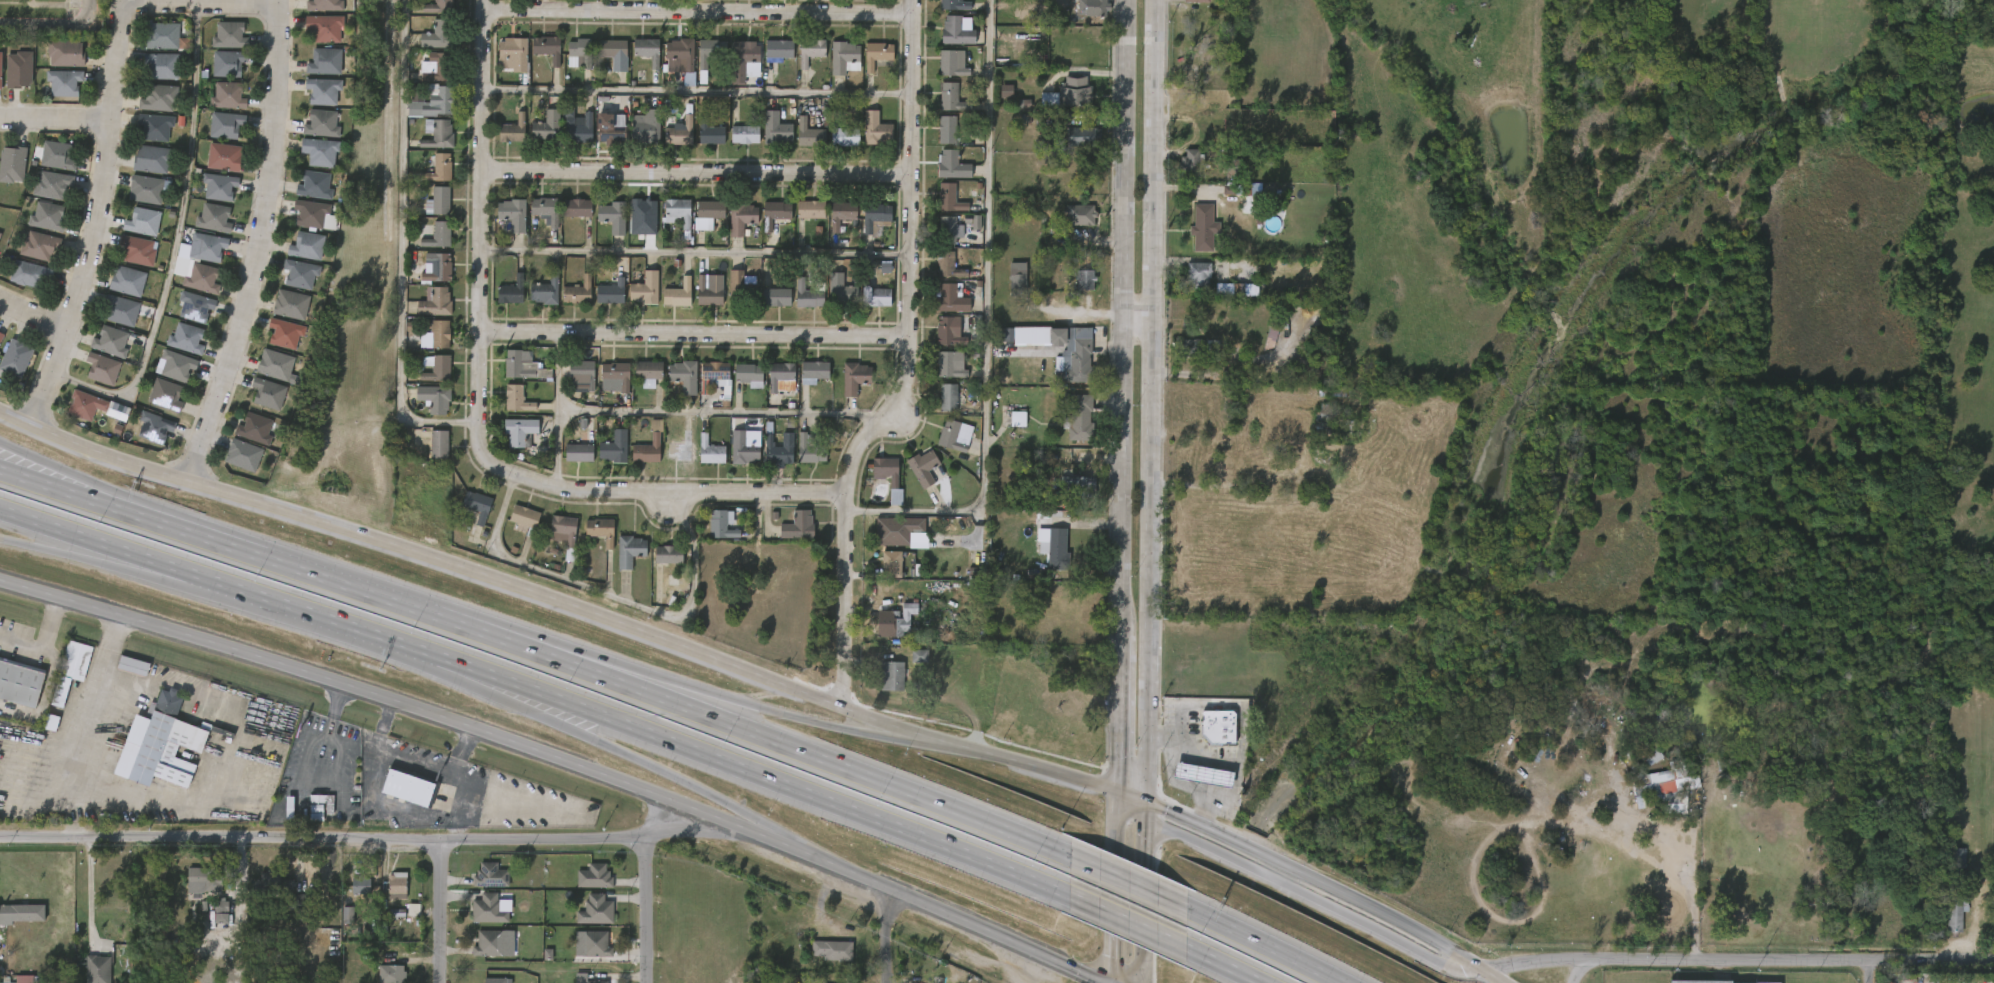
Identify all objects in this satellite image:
building: (1197, 0)
building: (1062, 1)
building: (26, 4)
building: (955, 4)
building: (324, 5)
building: (441, 7)
building: (1088, 8)
building: (941, 11)
building: (430, 12)
road: (701, 12)
building: (1080, 16)
road: (51, 23)
building: (1991, 25)
building: (327, 28)
building: (954, 32)
building: (439, 34)
building: (228, 35)
building: (164, 37)
building: (313, 38)
building: (945, 41)
building: (219, 45)
building: (427, 45)
building: (154, 46)
building: (612, 48)
building: (544, 49)
building: (647, 49)
building: (779, 49)
building: (811, 50)
building: (511, 51)
building: (682, 51)
building: (710, 51)
building: (579, 52)
building: (65, 53)
building: (877, 54)
building: (844, 57)
building: (536, 58)
building: (742, 59)
building: (767, 59)
building: (636, 60)
building: (799, 61)
building: (327, 62)
building: (699, 62)
building: (55, 63)
building: (227, 63)
building: (604, 63)
building: (953, 63)
building: (0, 64)
building: (501, 64)
building: (568, 64)
building: (865, 64)
building: (165, 66)
building: (668, 66)
building: (833, 68)
building: (17, 69)
building: (443, 69)
building: (314, 72)
building: (217, 73)
building: (941, 73)
building: (150, 76)
building: (425, 77)
building: (63, 82)
road: (702, 90)
building: (1075, 91)
building: (53, 92)
building: (325, 92)
building: (230, 96)
building: (952, 97)
building: (161, 98)
building: (312, 101)
building: (433, 103)
building: (1057, 104)
building: (217, 106)
building: (148, 108)
building: (940, 108)
building: (424, 114)
building: (1036, 119)
road: (56, 120)
building: (324, 124)
building: (576, 124)
building: (227, 125)
building: (644, 125)
building: (544, 126)
building: (157, 127)
building: (774, 128)
building: (873, 128)
building: (513, 129)
building: (609, 129)
building: (681, 129)
building: (947, 129)
building: (710, 131)
building: (311, 133)
building: (438, 133)
building: (807, 133)
building: (742, 134)
building: (215, 135)
building: (145, 136)
building: (536, 136)
building: (842, 136)
building: (1080, 136)
building: (634, 137)
building: (599, 138)
building: (765, 138)
building: (568, 139)
building: (864, 139)
building: (936, 139)
building: (502, 140)
building: (668, 142)
road: (110, 143)
building: (427, 143)
building: (700, 144)
building: (733, 144)
building: (798, 144)
building: (1071, 147)
building: (833, 148)
building: (322, 151)
building: (56, 155)
building: (226, 156)
building: (154, 158)
building: (1189, 161)
building: (309, 162)
building: (12, 164)
building: (46, 165)
building: (952, 165)
building: (213, 167)
building: (437, 167)
building: (141, 169)
building: (1180, 171)
road: (703, 175)
building: (940, 175)
building: (51, 184)
building: (317, 184)
building: (221, 186)
building: (416, 187)
building: (148, 189)
building: (40, 194)
building: (304, 195)
building: (209, 196)
building: (950, 198)
building: (137, 199)
building: (437, 201)
building: (577, 207)
building: (938, 208)
building: (811, 209)
building: (546, 210)
building: (427, 211)
building: (678, 211)
building: (313, 212)
building: (776, 212)
building: (840, 213)
building: (513, 214)
building: (708, 214)
building: (1079, 214)
building: (46, 216)
building: (613, 216)
building: (216, 217)
building: (742, 217)
building: (567, 218)
building: (876, 218)
building: (799, 219)
building: (142, 220)
building: (535, 220)
building: (666, 222)
building: (697, 223)
building: (764, 223)
building: (502, 224)
building: (830, 224)
building: (303, 225)
building: (1068, 225)
building: (36, 226)
building: (864, 226)
building: (602, 227)
building: (1201, 227)
building: (203, 228)
building: (730, 228)
building: (949, 230)
building: (132, 231)
building: (964, 232)
building: (438, 236)
building: (1192, 237)
building: (939, 239)
building: (39, 245)
road: (260, 245)
building: (306, 245)
building: (427, 245)
building: (206, 247)
road: (175, 248)
building: (137, 250)
road: (702, 251)
road: (400, 253)
building: (29, 255)
building: (296, 256)
building: (196, 257)
building: (126, 260)
building: (173, 260)
building: (948, 264)
building: (439, 269)
building: (29, 273)
building: (300, 274)
building: (1197, 274)
building: (938, 276)
building: (204, 277)
building: (426, 277)
building: (1083, 279)
building: (129, 280)
building: (1017, 283)
building: (19, 284)
building: (290, 284)
building: (1006, 286)
building: (1186, 286)
building: (738, 287)
building: (191, 288)
building: (645, 289)
building: (117, 290)
building: (511, 290)
building: (545, 290)
building: (1073, 290)
building: (577, 291)
building: (839, 291)
building: (610, 292)
building: (675, 293)
building: (705, 293)
building: (725, 293)
building: (809, 294)
building: (774, 296)
building: (876, 297)
building: (951, 298)
building: (634, 299)
building: (830, 300)
building: (500, 301)
building: (533, 301)
building: (567, 301)
building: (435, 302)
building: (600, 302)
building: (696, 303)
building: (293, 304)
building: (667, 304)
building: (796, 305)
building: (197, 306)
building: (864, 306)
building: (765, 307)
building: (940, 308)
building: (121, 310)
building: (424, 311)
building: (280, 314)
road: (31, 316)
building: (185, 316)
road: (984, 317)
road: (1120, 317)
building: (1037, 318)
building: (110, 320)
building: (948, 332)
building: (287, 333)
building: (440, 334)
road: (702, 335)
building: (2, 338)
building: (188, 338)
building: (112, 341)
building: (938, 341)
building: (274, 343)
building: (425, 345)
building: (1188, 347)
building: (176, 348)
building: (100, 352)
building: (1074, 353)
building: (17, 357)
building: (1182, 357)
building: (1065, 360)
building: (278, 364)
building: (951, 364)
building: (178, 365)
road: (916, 366)
building: (522, 367)
building: (104, 368)
building: (438, 368)
building: (815, 369)
building: (583, 372)
building: (649, 373)
building: (713, 373)
building: (748, 373)
building: (264, 374)
building: (617, 374)
building: (939, 374)
building: (164, 375)
building: (512, 375)
building: (684, 376)
building: (781, 377)
building: (92, 378)
building: (852, 378)
building: (427, 379)
building: (803, 380)
building: (637, 382)
building: (606, 384)
building: (738, 384)
building: (768, 384)
building: (571, 386)
building: (672, 386)
building: (843, 387)
building: (270, 393)
building: (167, 394)
building: (434, 398)
building: (949, 398)
building: (517, 399)
road: (1150, 400)
building: (257, 403)
building: (88, 404)
building: (155, 404)
building: (936, 407)
building: (506, 408)
building: (424, 409)
road: (557, 409)
road: (490, 410)
road: (724, 412)
building: (84, 416)
building: (1077, 418)
building: (156, 427)
building: (257, 428)
building: (1068, 428)
building: (1006, 429)
building: (520, 431)
building: (950, 435)
building: (144, 437)
building: (244, 438)
building: (509, 441)
building: (436, 444)
building: (649, 446)
building: (614, 447)
building: (779, 447)
building: (681, 448)
building: (743, 448)
road: (13, 449)
building: (810, 449)
building: (710, 451)
building: (578, 453)
building: (428, 454)
building: (245, 455)
building: (638, 456)
building: (603, 457)
building: (669, 458)
building: (732, 458)
building: (800, 458)
building: (767, 460)
building: (699, 461)
building: (568, 462)
building: (232, 465)
building: (922, 466)
building: (886, 470)
building: (912, 477)
road: (67, 480)
building: (877, 486)
building: (1078, 486)
road: (53, 488)
building: (1074, 495)
building: (477, 504)
building: (465, 516)
building: (525, 516)
building: (720, 524)
building: (798, 524)
building: (513, 526)
building: (601, 529)
building: (895, 530)
building: (565, 533)
building: (711, 534)
building: (787, 535)
building: (552, 539)
building: (589, 540)
road: (95, 541)
building: (630, 549)
road: (49, 550)
building: (1055, 551)
building: (667, 556)
building: (1044, 557)
building: (619, 560)
building: (657, 564)
road: (460, 566)
road: (144, 567)
building: (880, 573)
road: (333, 582)
road: (611, 597)
road: (315, 614)
building: (898, 619)
road: (43, 640)
building: (132, 665)
building: (908, 665)
road: (605, 668)
building: (70, 669)
building: (122, 675)
building: (890, 677)
road: (480, 682)
building: (19, 683)
building: (881, 686)
road: (93, 701)
road: (750, 704)
road: (1117, 712)
building: (1219, 725)
building: (41, 732)
road: (884, 732)
building: (1207, 736)
building: (158, 743)
road: (239, 747)
road: (616, 750)
road: (813, 756)
road: (304, 759)
road: (415, 759)
road: (561, 760)
road: (1016, 761)
road: (1195, 763)
road: (755, 772)
building: (1205, 773)
gas station: (1205, 773)
building: (1192, 784)
building: (407, 787)
road: (1129, 795)
building: (1654, 798)
building: (312, 811)
road: (741, 817)
road: (365, 842)
building: (1947, 867)
building: (493, 876)
building: (594, 876)
building: (204, 879)
road: (1315, 879)
building: (271, 882)
road: (1125, 882)
building: (396, 885)
building: (480, 885)
building: (583, 886)
road: (1113, 886)
road: (1298, 889)
building: (193, 890)
road: (1141, 891)
road: (89, 892)
building: (265, 892)
building: (350, 895)
building: (386, 895)
road: (1692, 895)
road: (644, 908)
building: (1956, 908)
building: (491, 910)
building: (596, 910)
building: (21, 913)
road: (447, 914)
building: (402, 919)
building: (477, 919)
building: (585, 919)
road: (1125, 921)
building: (16, 922)
building: (210, 922)
building: (386, 923)
building: (1944, 923)
road: (884, 933)
building: (491, 944)
building: (592, 944)
road: (1262, 944)
building: (830, 949)
building: (581, 953)
building: (821, 959)
road: (1737, 961)
road: (1221, 965)
road: (1580, 967)
building: (98, 969)
road: (1874, 974)
road: (1492, 976)
building: (380, 978)
building: (583, 978)
building: (494, 980)
building: (1705, 981)
building: (570, 982)

